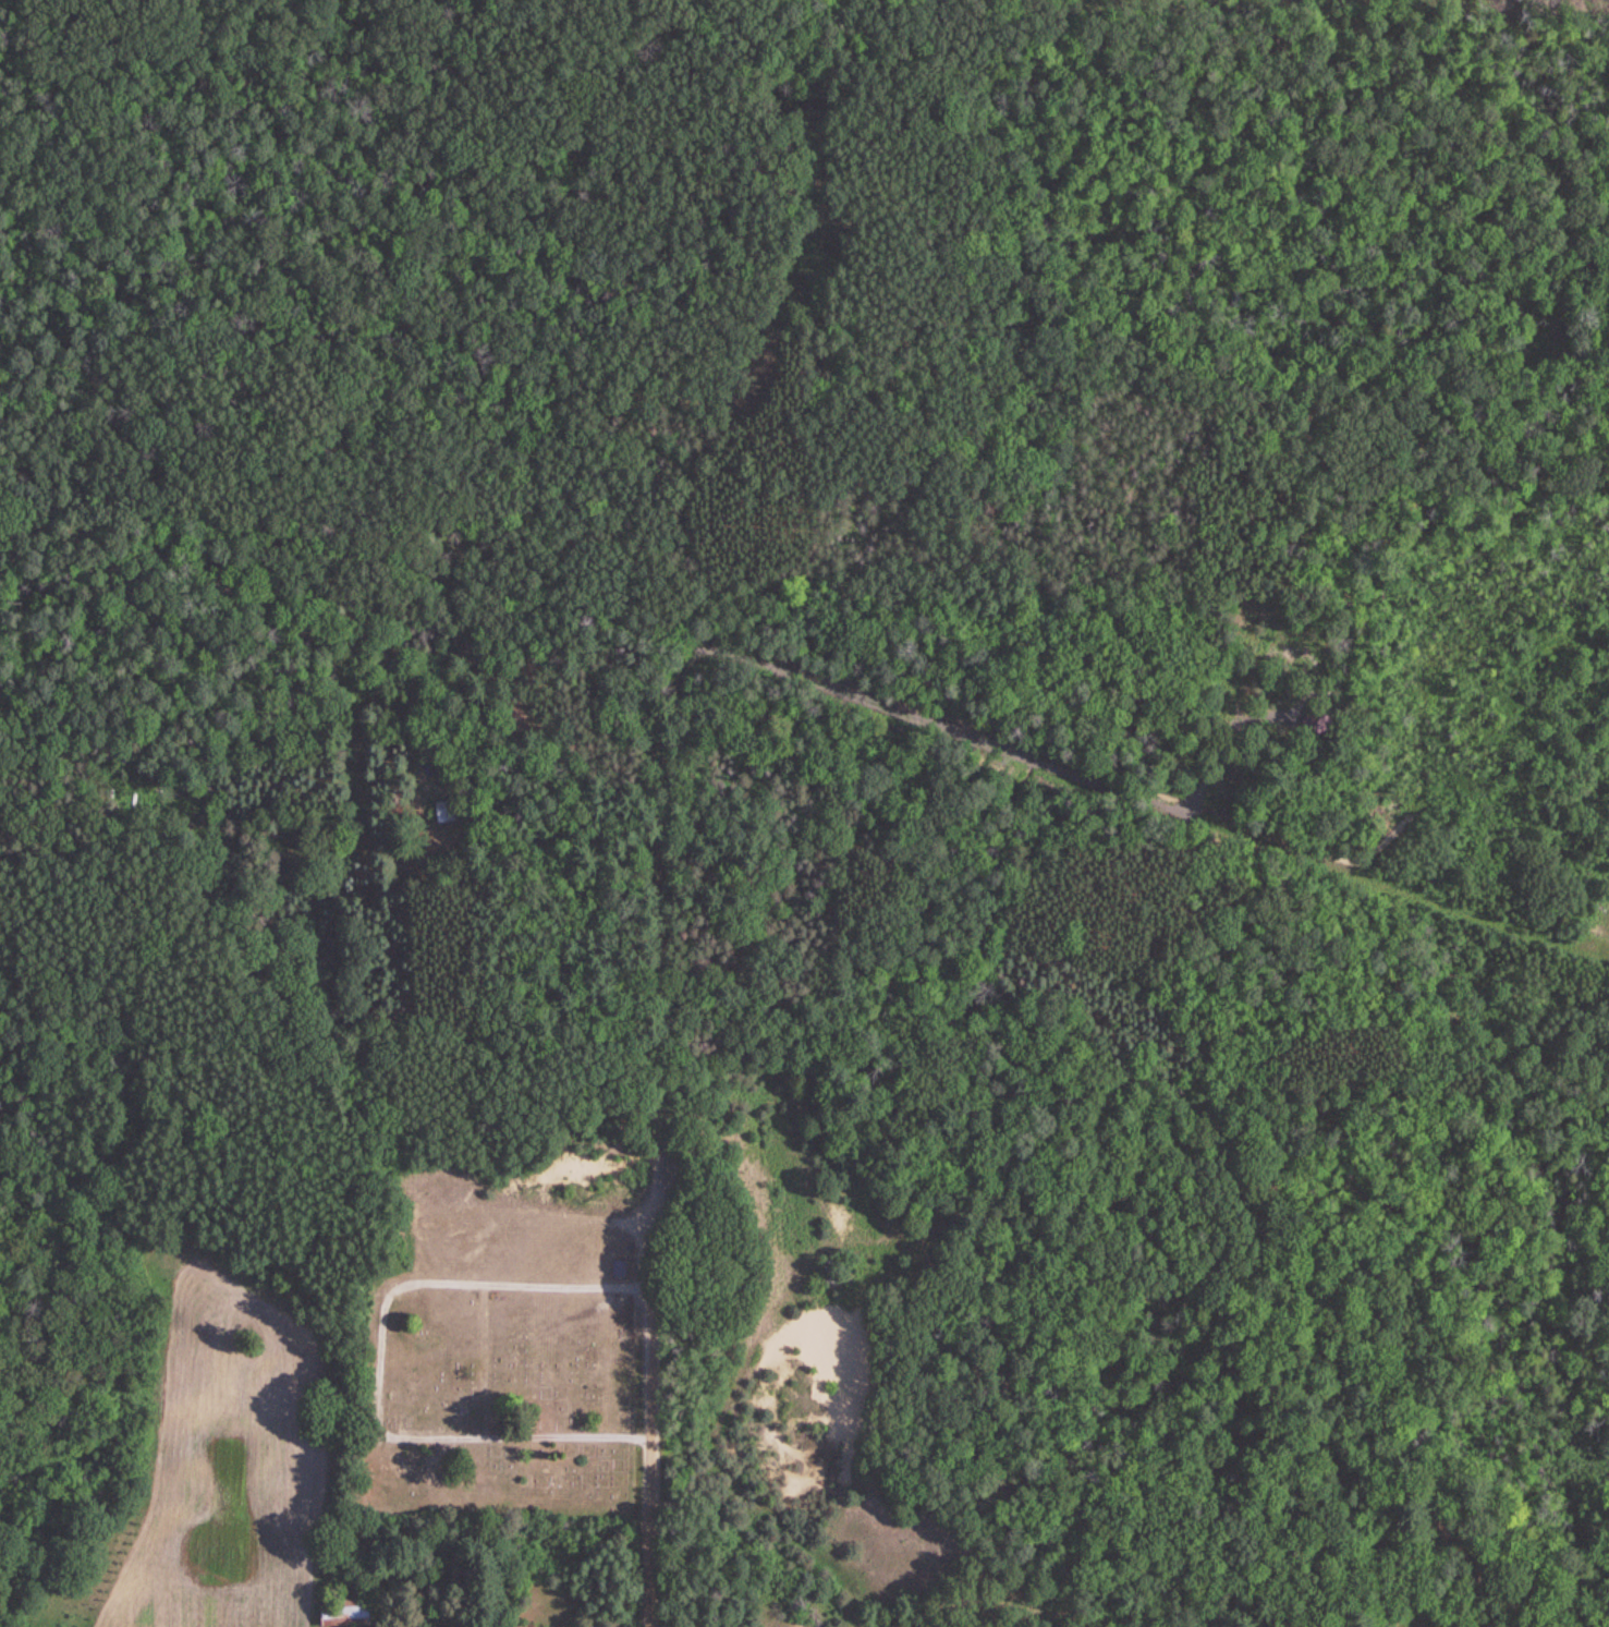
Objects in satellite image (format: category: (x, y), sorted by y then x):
building: (440, 811)
building: (617, 1268)
road: (658, 1335)
park: (496, 1348)
building: (339, 1612)

